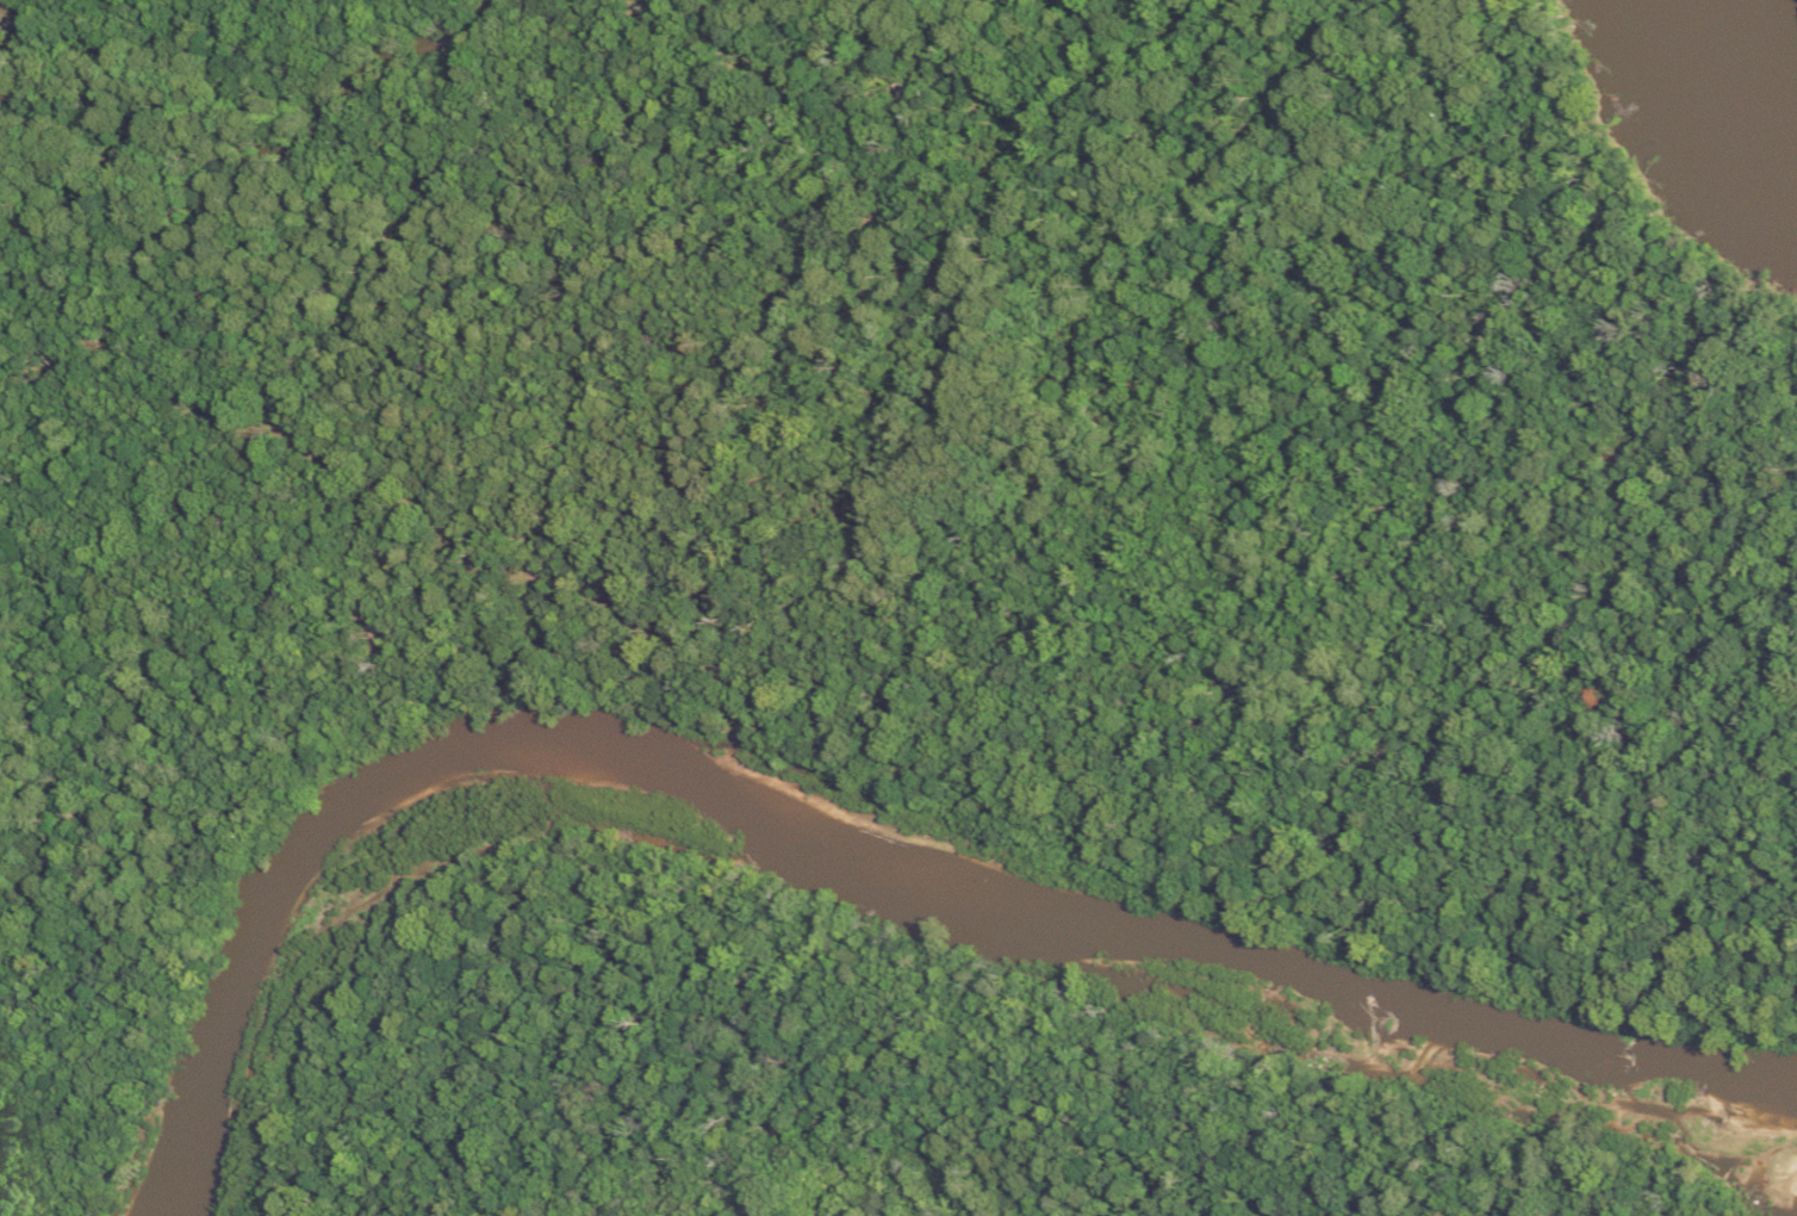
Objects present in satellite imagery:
river: (1741, 79)

